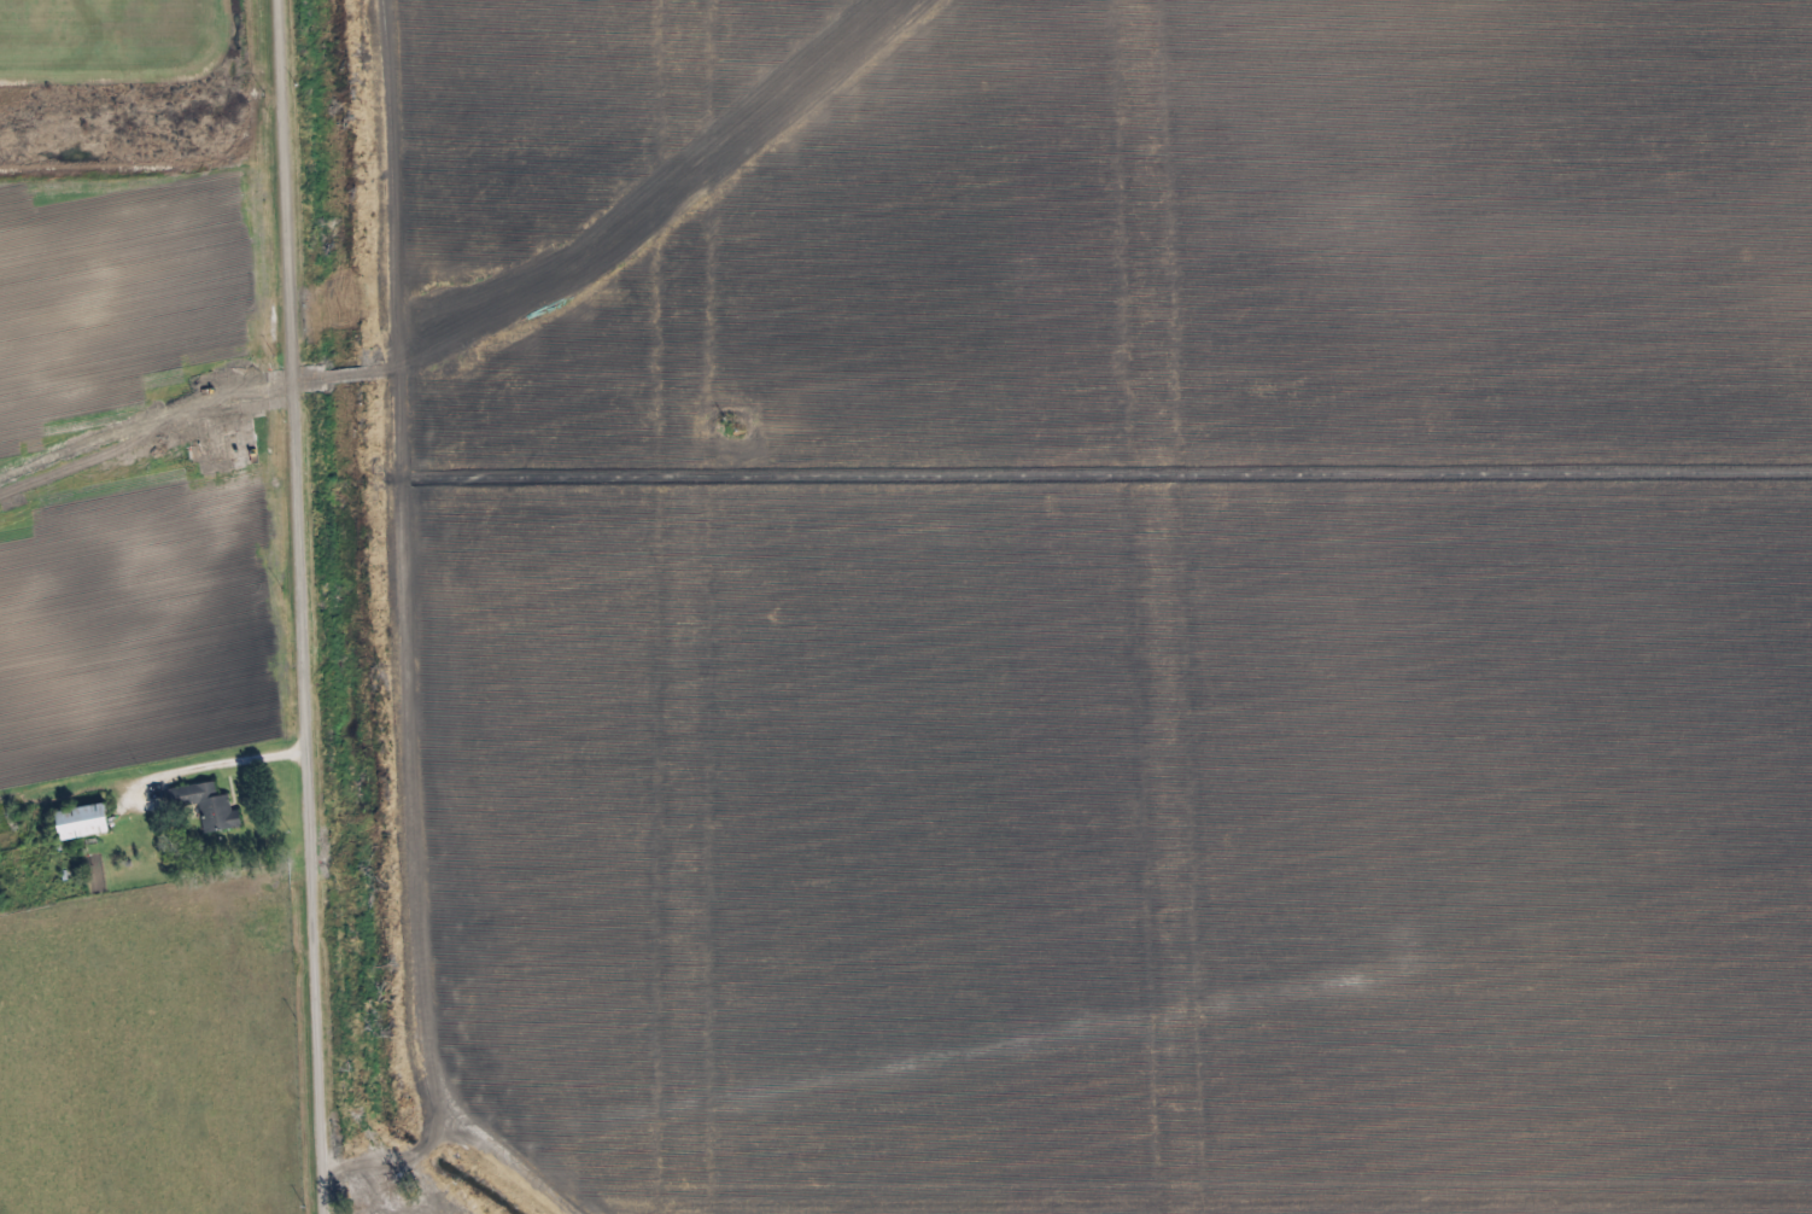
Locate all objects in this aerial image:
road: (300, 607)
building: (210, 807)
building: (87, 823)

